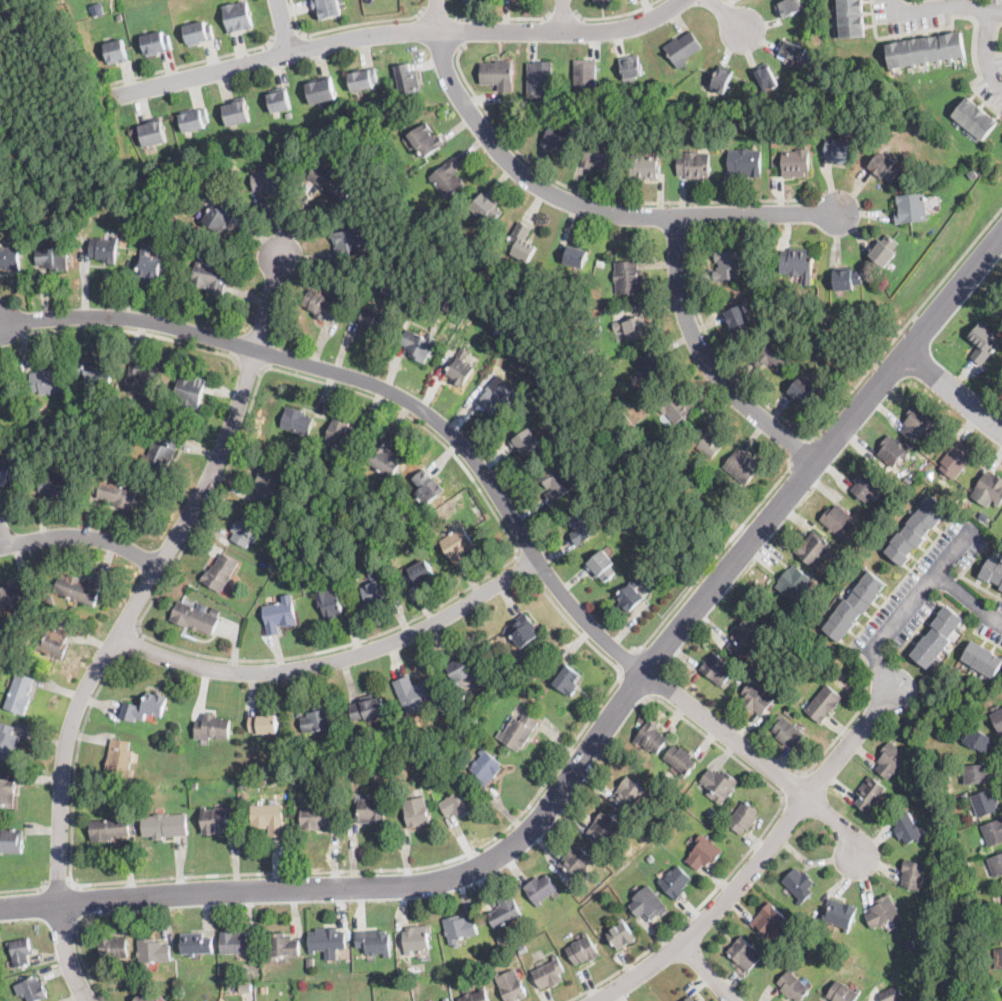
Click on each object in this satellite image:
building: (475, 1)
building: (602, 1)
building: (112, 3)
road: (945, 6)
building: (790, 7)
building: (326, 8)
road: (437, 14)
road: (613, 14)
road: (564, 15)
building: (119, 16)
road: (501, 16)
building: (237, 17)
road: (563, 17)
road: (730, 18)
building: (850, 18)
road: (347, 24)
road: (283, 26)
road: (458, 31)
road: (399, 32)
building: (197, 33)
road: (284, 34)
building: (156, 43)
building: (683, 48)
building: (793, 50)
building: (926, 50)
road: (988, 50)
building: (116, 51)
building: (789, 60)
road: (191, 62)
building: (631, 68)
building: (498, 74)
building: (585, 74)
building: (767, 77)
building: (363, 78)
building: (540, 79)
building: (722, 79)
building: (407, 80)
building: (321, 89)
building: (595, 96)
building: (279, 100)
building: (236, 111)
building: (290, 113)
building: (975, 117)
building: (394, 118)
building: (193, 119)
building: (920, 125)
building: (729, 126)
building: (153, 132)
building: (559, 136)
building: (426, 139)
building: (840, 150)
building: (597, 156)
building: (745, 162)
building: (795, 162)
building: (922, 163)
building: (693, 164)
building: (644, 166)
building: (884, 166)
building: (972, 174)
building: (449, 179)
building: (269, 181)
building: (331, 182)
road: (596, 196)
road: (576, 205)
building: (487, 206)
building: (911, 207)
building: (54, 208)
building: (428, 214)
road: (691, 215)
building: (219, 217)
building: (522, 241)
building: (349, 242)
building: (104, 249)
building: (885, 250)
building: (575, 255)
building: (52, 257)
building: (10, 258)
building: (797, 263)
building: (149, 264)
building: (727, 265)
building: (627, 277)
building: (209, 278)
building: (847, 279)
building: (593, 300)
building: (322, 304)
building: (864, 312)
building: (376, 319)
building: (470, 319)
building: (737, 319)
road: (906, 322)
building: (506, 323)
building: (633, 327)
road: (134, 329)
building: (983, 342)
building: (417, 343)
building: (822, 345)
road: (715, 351)
building: (774, 355)
road: (706, 360)
road: (250, 362)
building: (652, 365)
building: (460, 368)
building: (93, 369)
building: (597, 372)
building: (46, 380)
building: (142, 381)
road: (382, 388)
building: (190, 390)
building: (4, 391)
building: (802, 391)
road: (952, 392)
building: (496, 402)
building: (676, 406)
building: (297, 420)
building: (917, 422)
building: (628, 433)
building: (342, 435)
building: (707, 441)
building: (525, 442)
building: (597, 446)
road: (799, 450)
building: (894, 451)
building: (161, 453)
building: (956, 459)
building: (386, 460)
road: (459, 461)
building: (742, 466)
building: (7, 471)
building: (929, 473)
building: (557, 481)
building: (56, 483)
building: (267, 483)
building: (867, 485)
building: (427, 486)
building: (991, 488)
building: (117, 494)
building: (890, 500)
building: (984, 515)
building: (726, 520)
building: (836, 520)
building: (431, 524)
building: (584, 528)
building: (246, 530)
building: (916, 530)
building: (367, 535)
road: (81, 536)
building: (301, 543)
building: (458, 545)
building: (285, 548)
building: (813, 548)
road: (956, 548)
road: (713, 558)
building: (672, 564)
road: (521, 566)
building: (602, 567)
building: (992, 570)
building: (220, 572)
building: (833, 572)
building: (417, 573)
road: (152, 575)
building: (794, 583)
building: (1001, 588)
building: (76, 589)
building: (374, 591)
building: (630, 594)
road: (918, 594)
building: (14, 595)
building: (329, 602)
building: (854, 606)
building: (279, 614)
building: (196, 617)
road: (571, 623)
building: (525, 630)
building: (746, 637)
building: (938, 637)
road: (127, 640)
building: (54, 643)
road: (335, 657)
road: (627, 659)
building: (983, 659)
building: (461, 666)
building: (718, 669)
building: (530, 672)
building: (567, 681)
road: (634, 685)
building: (19, 693)
building: (417, 694)
building: (524, 695)
building: (756, 698)
building: (824, 703)
building: (144, 707)
building: (368, 708)
building: (788, 711)
building: (997, 719)
building: (318, 720)
building: (475, 722)
building: (263, 724)
building: (213, 727)
road: (841, 730)
building: (518, 731)
building: (788, 733)
building: (651, 737)
building: (978, 739)
building: (7, 741)
road: (593, 741)
building: (120, 758)
road: (759, 758)
building: (680, 759)
building: (891, 759)
building: (398, 765)
building: (486, 767)
building: (976, 773)
building: (261, 780)
building: (289, 780)
building: (304, 782)
building: (194, 784)
building: (719, 784)
road: (792, 785)
building: (7, 792)
building: (148, 793)
building: (869, 793)
building: (629, 794)
building: (458, 802)
building: (985, 802)
building: (370, 809)
building: (416, 811)
building: (712, 812)
building: (269, 817)
building: (743, 817)
building: (318, 818)
building: (216, 820)
building: (164, 825)
building: (605, 827)
building: (907, 828)
building: (109, 829)
building: (993, 831)
building: (11, 840)
road: (747, 849)
building: (704, 852)
building: (649, 856)
road: (757, 861)
building: (576, 862)
building: (996, 864)
building: (964, 865)
road: (272, 871)
building: (913, 874)
road: (58, 879)
building: (675, 882)
building: (799, 885)
road: (23, 887)
building: (540, 888)
road: (74, 901)
building: (648, 903)
building: (504, 911)
building: (883, 912)
building: (839, 913)
building: (768, 920)
building: (459, 928)
building: (1001, 929)
building: (622, 934)
building: (416, 938)
building: (326, 939)
building: (238, 942)
building: (375, 942)
building: (908, 943)
building: (196, 944)
building: (281, 946)
building: (112, 948)
building: (522, 948)
building: (583, 949)
building: (21, 950)
building: (152, 952)
road: (66, 953)
building: (745, 954)
building: (998, 957)
building: (773, 960)
road: (84, 963)
building: (310, 963)
building: (411, 969)
building: (550, 973)
road: (705, 973)
building: (124, 976)
building: (891, 981)
building: (444, 982)
building: (510, 985)
building: (793, 986)
building: (243, 987)
building: (260, 987)
building: (1001, 988)
building: (33, 989)
building: (843, 993)
building: (889, 994)
building: (476, 995)
building: (144, 997)
building: (446, 998)
building: (691, 999)
building: (698, 1000)
building: (1001, 1000)

